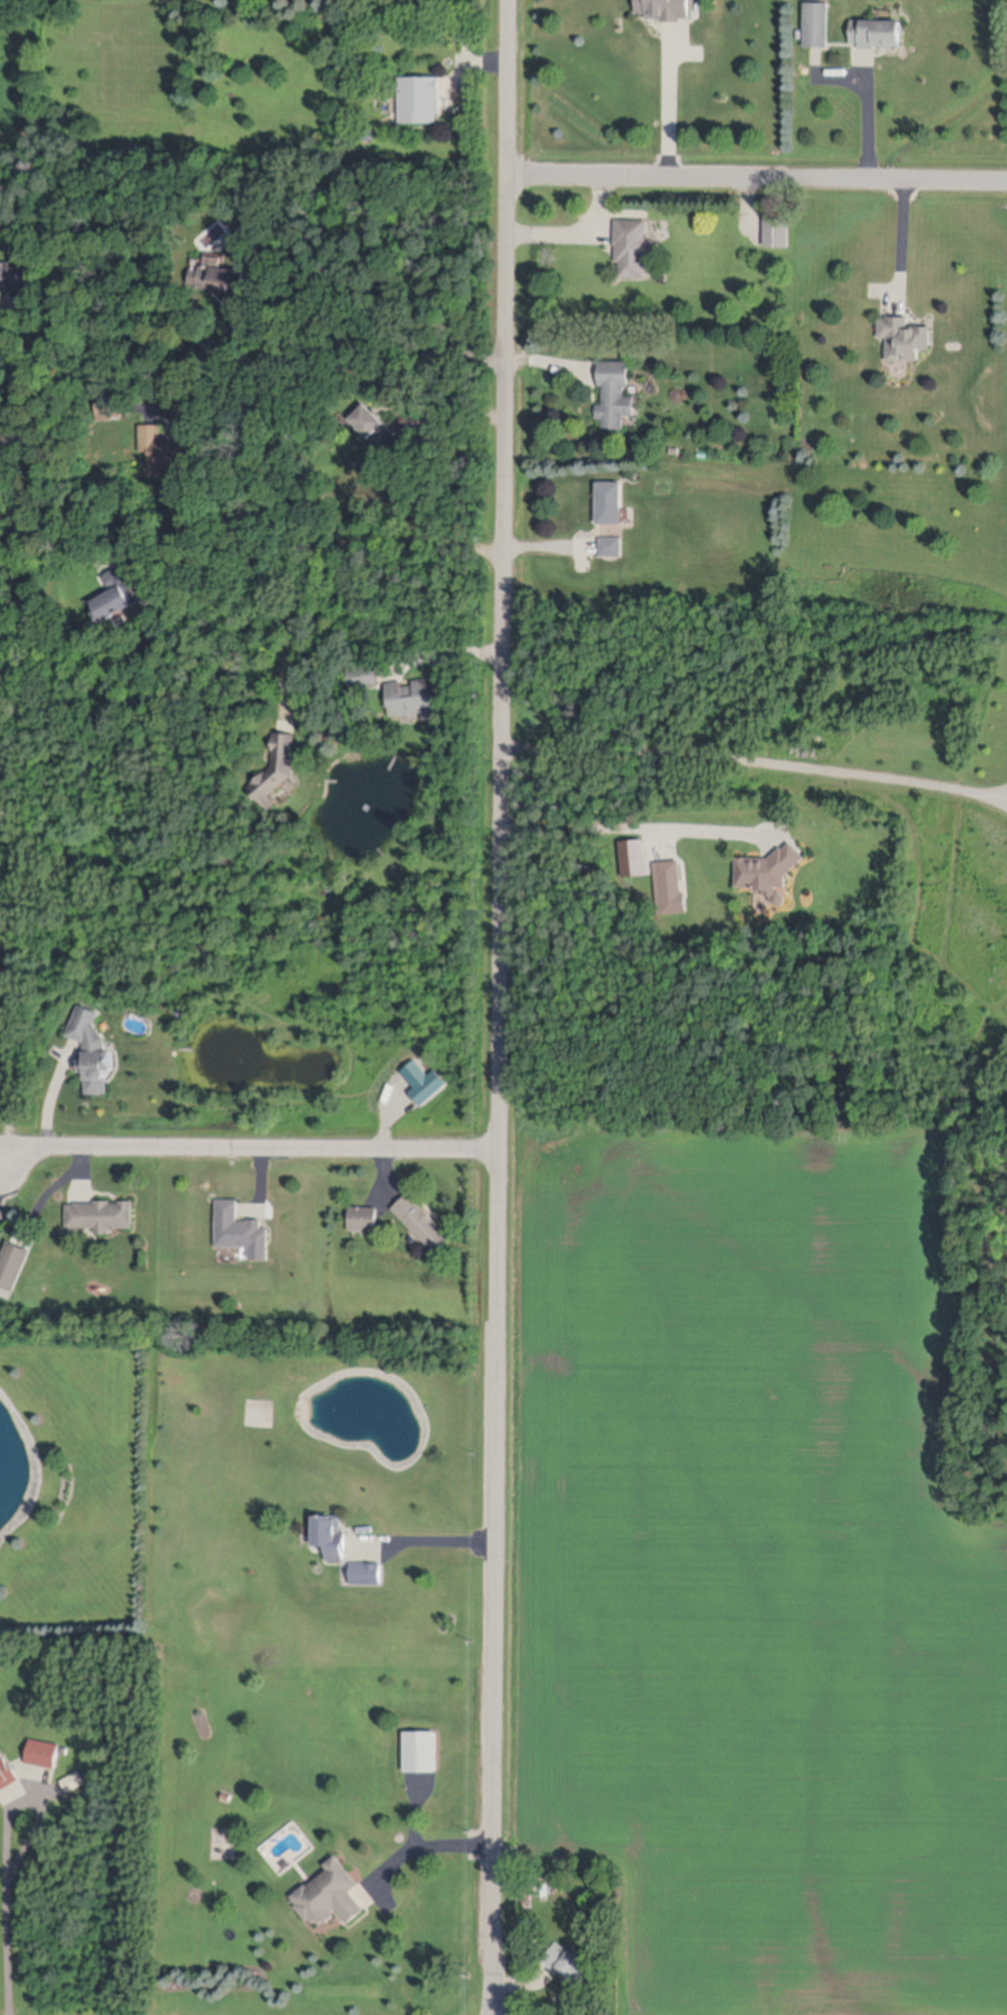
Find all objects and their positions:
building: (664, 11)
building: (816, 27)
building: (875, 37)
building: (469, 44)
building: (418, 102)
road: (670, 108)
road: (866, 126)
building: (365, 134)
building: (132, 149)
building: (361, 164)
road: (759, 180)
road: (577, 234)
building: (776, 235)
road: (902, 246)
building: (631, 250)
building: (15, 281)
building: (223, 286)
building: (904, 342)
road: (187, 346)
road: (20, 359)
building: (615, 398)
building: (110, 412)
building: (381, 436)
building: (164, 452)
building: (674, 452)
building: (420, 468)
building: (609, 508)
road: (14, 538)
road: (331, 547)
road: (565, 547)
building: (611, 550)
building: (112, 591)
road: (450, 654)
building: (364, 670)
building: (413, 693)
road: (758, 757)
building: (277, 762)
road: (1001, 792)
building: (2, 815)
road: (633, 823)
building: (634, 852)
building: (769, 864)
building: (670, 883)
road: (14, 936)
building: (179, 1007)
road: (502, 1007)
building: (93, 1043)
road: (56, 1095)
road: (13, 1104)
road: (250, 1150)
road: (1, 1179)
building: (101, 1211)
building: (364, 1214)
building: (421, 1220)
building: (237, 1222)
building: (13, 1259)
building: (330, 1531)
road: (432, 1531)
building: (366, 1569)
building: (421, 1747)
building: (43, 1750)
building: (7, 1770)
building: (73, 1778)
building: (71, 1784)
road: (434, 1832)
building: (544, 1887)
building: (535, 1889)
building: (330, 1891)
road: (7, 1921)
building: (568, 1961)

